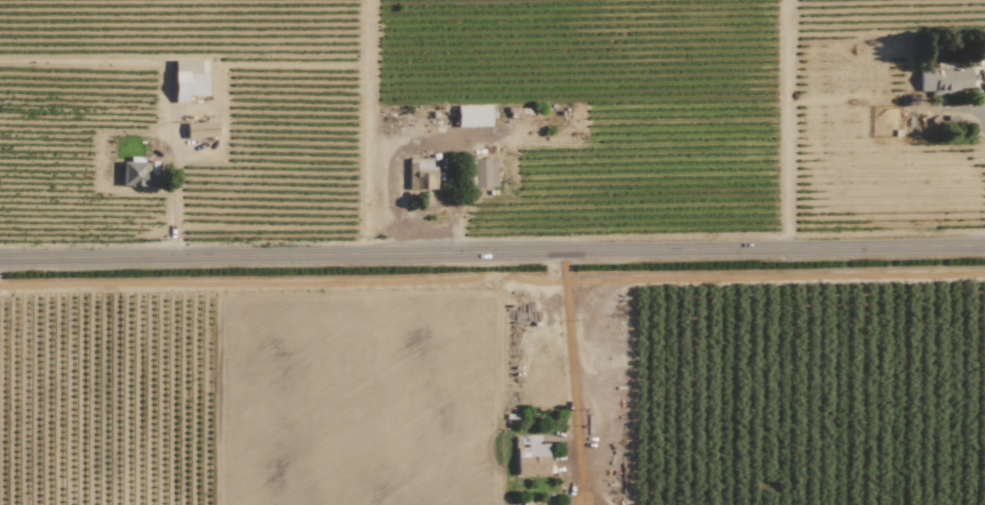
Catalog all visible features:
building: (944, 79)
building: (188, 80)
building: (473, 115)
road: (171, 119)
road: (981, 121)
road: (785, 123)
building: (201, 129)
building: (134, 173)
building: (421, 174)
road: (492, 251)
road: (573, 375)
building: (533, 460)

